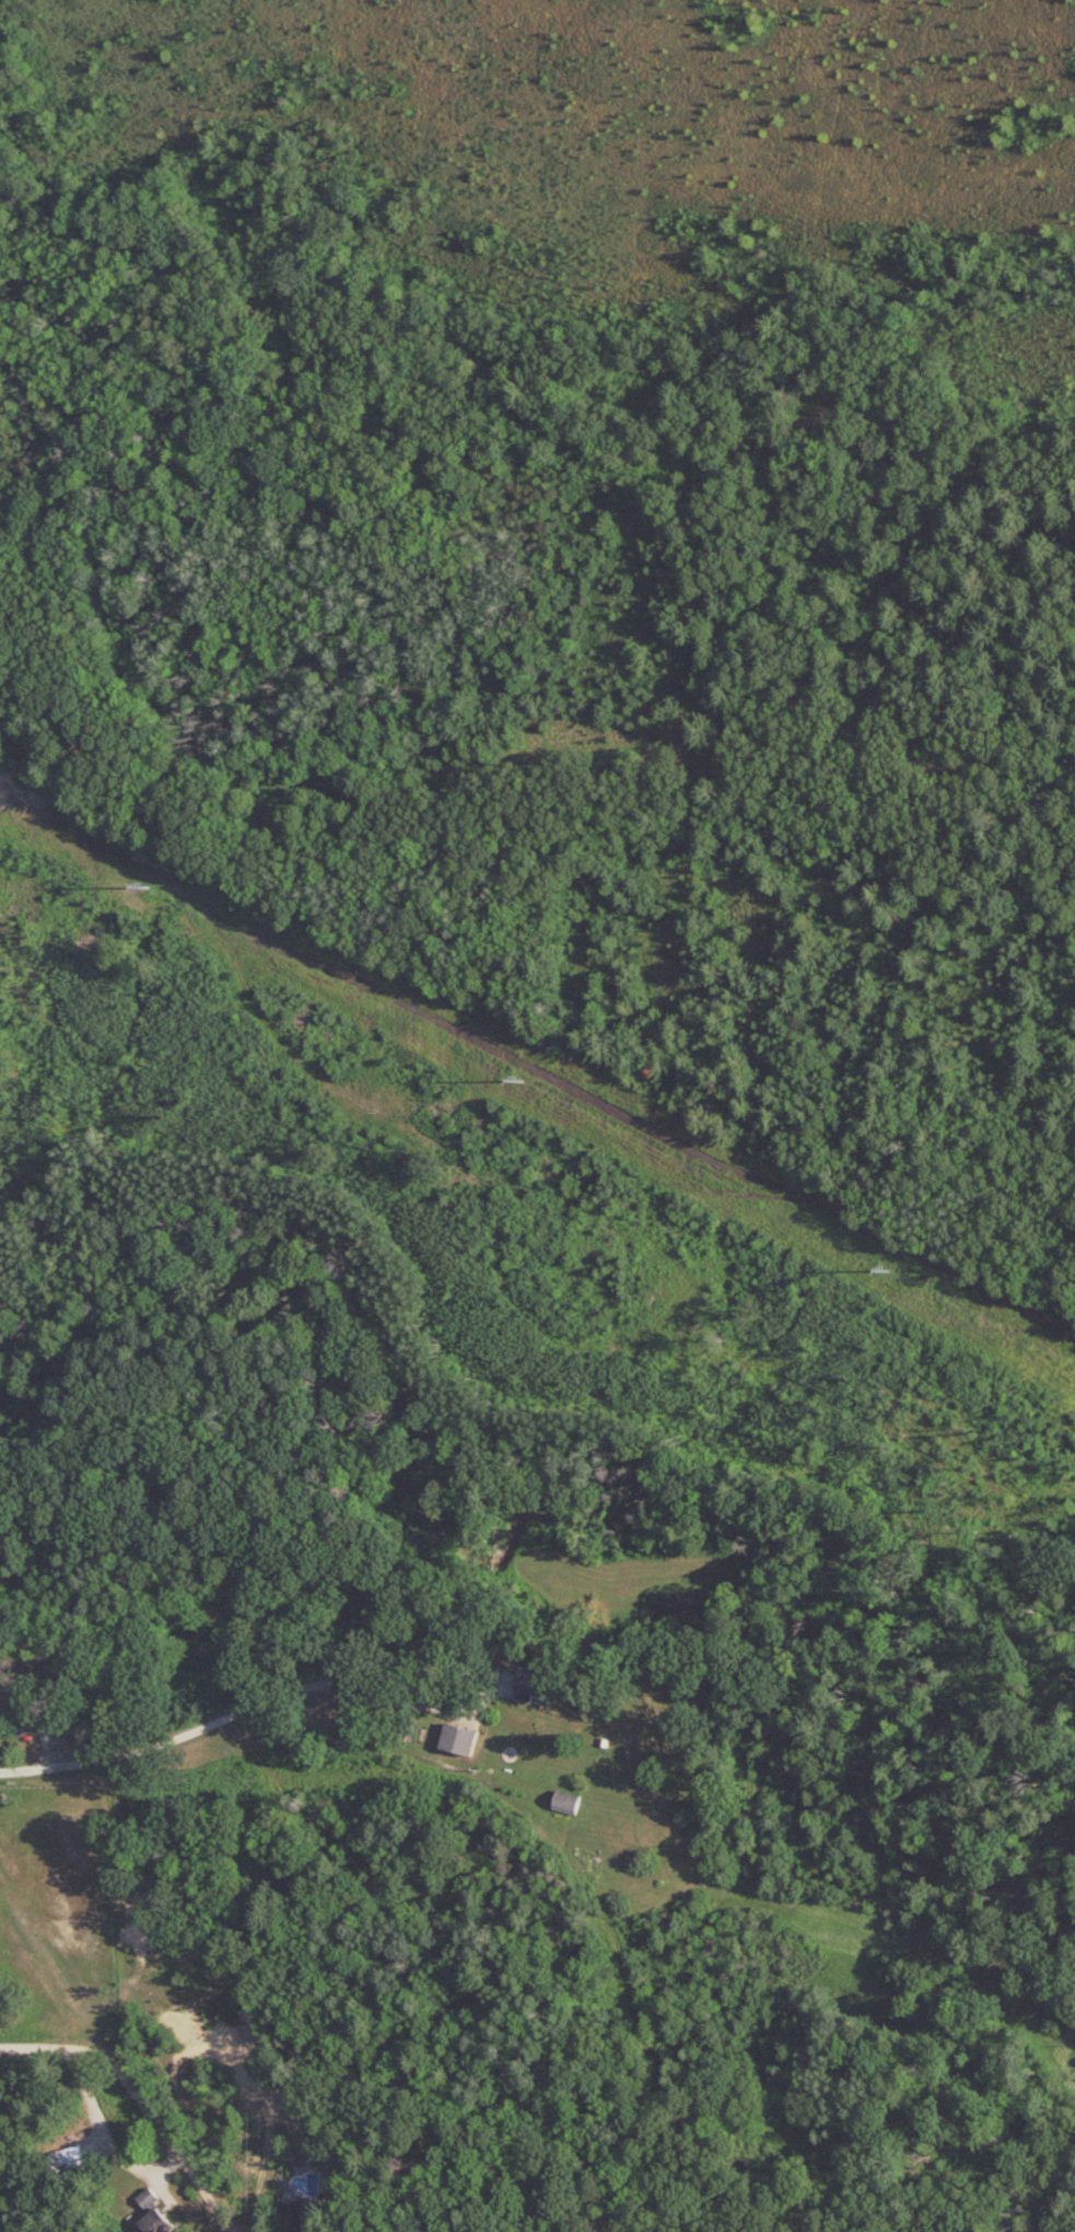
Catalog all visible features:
power tower: (144, 884)
power tower: (517, 1077)
power tower: (883, 1268)
road: (466, 1667)
building: (533, 1681)
road: (34, 1718)
building: (458, 1739)
road: (135, 1742)
road: (8, 1775)
building: (566, 1802)
road: (50, 2049)
road: (172, 2138)
building: (153, 2212)

